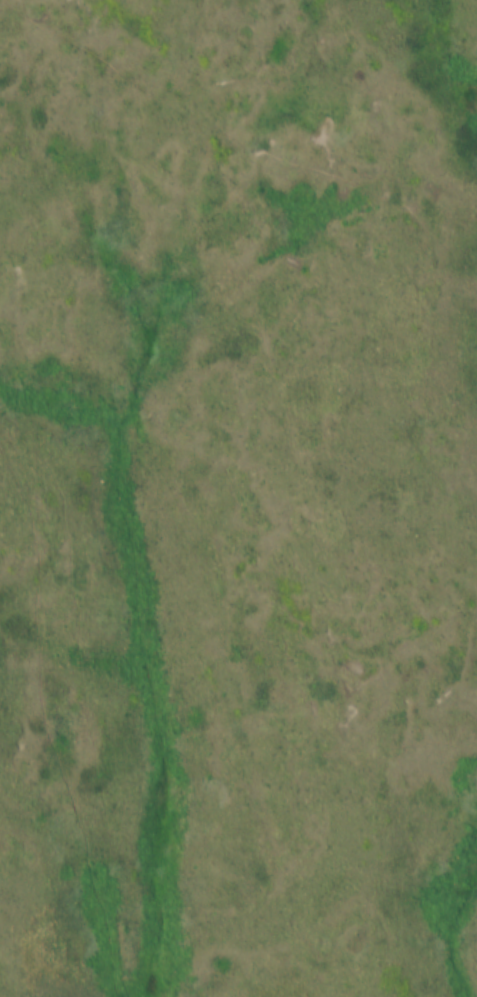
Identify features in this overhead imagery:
road: (476, 0)

